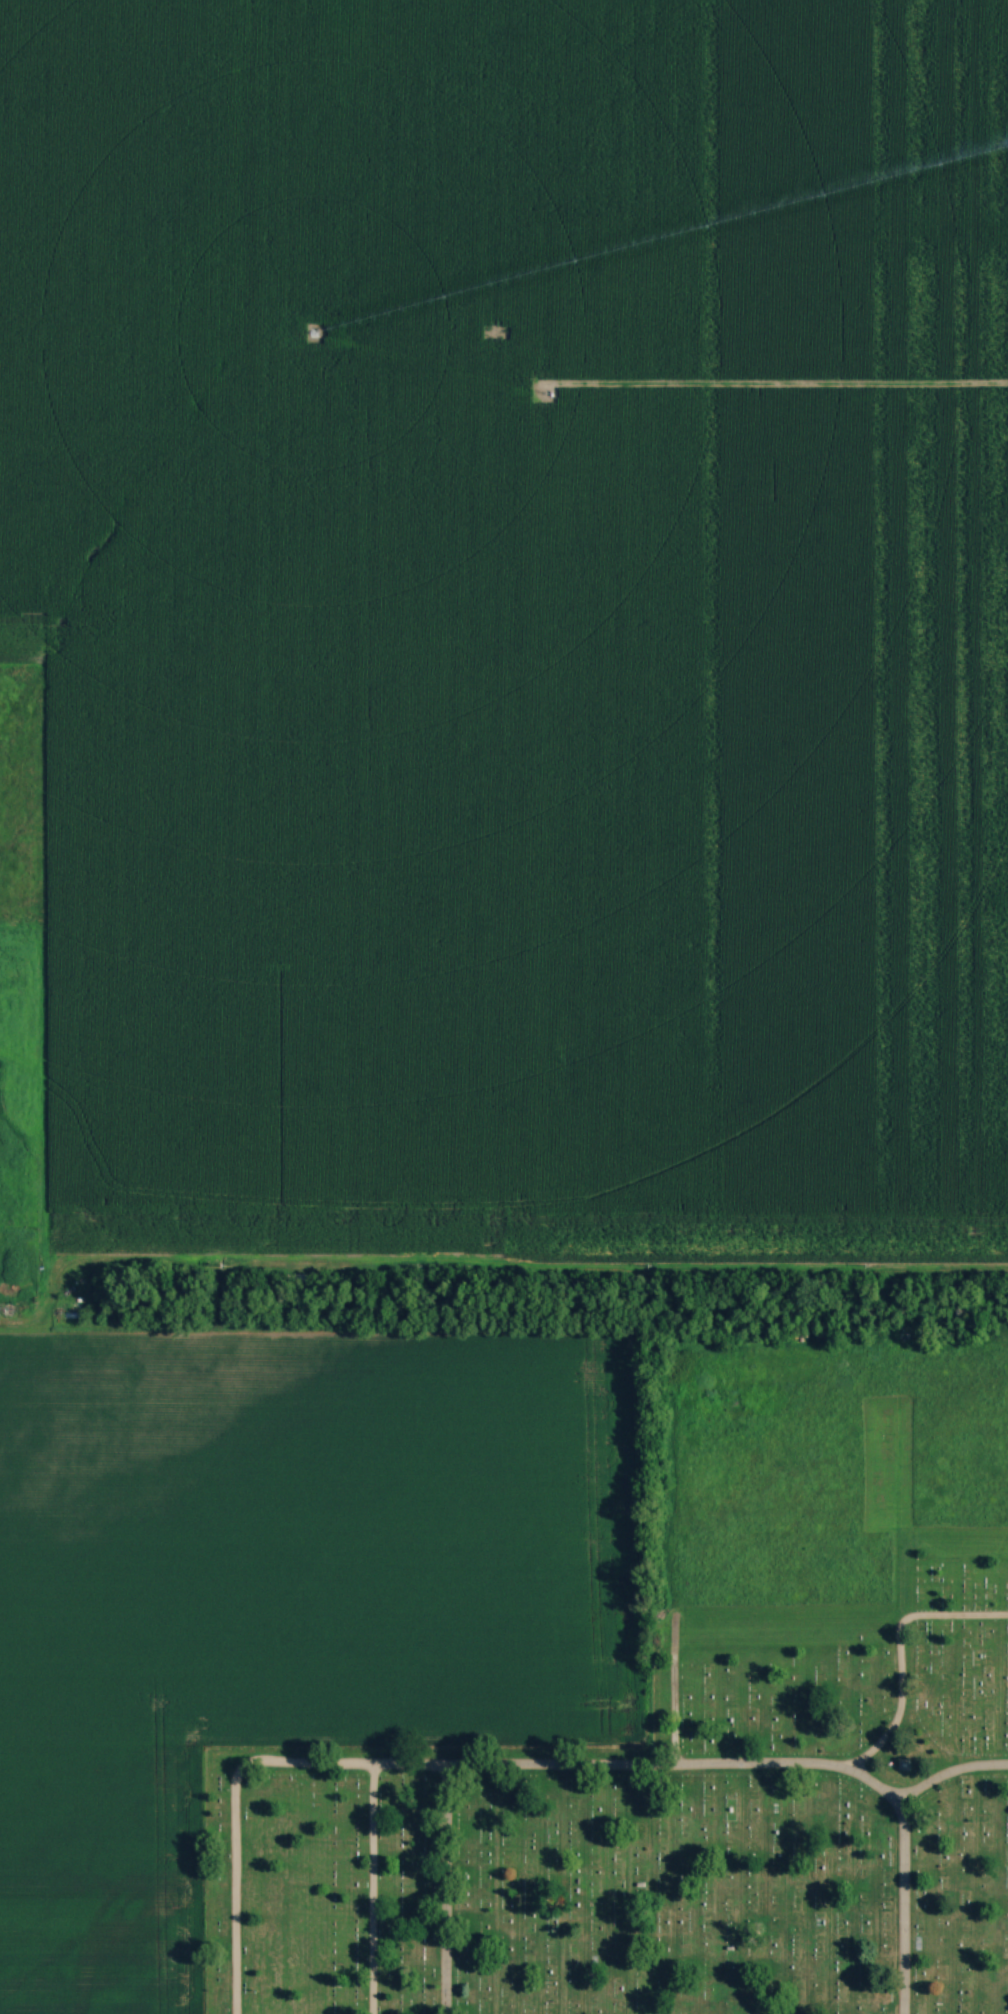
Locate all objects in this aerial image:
road: (897, 1657)
road: (486, 1770)
road: (921, 1789)
park: (645, 1838)
road: (443, 1892)
road: (899, 1909)

